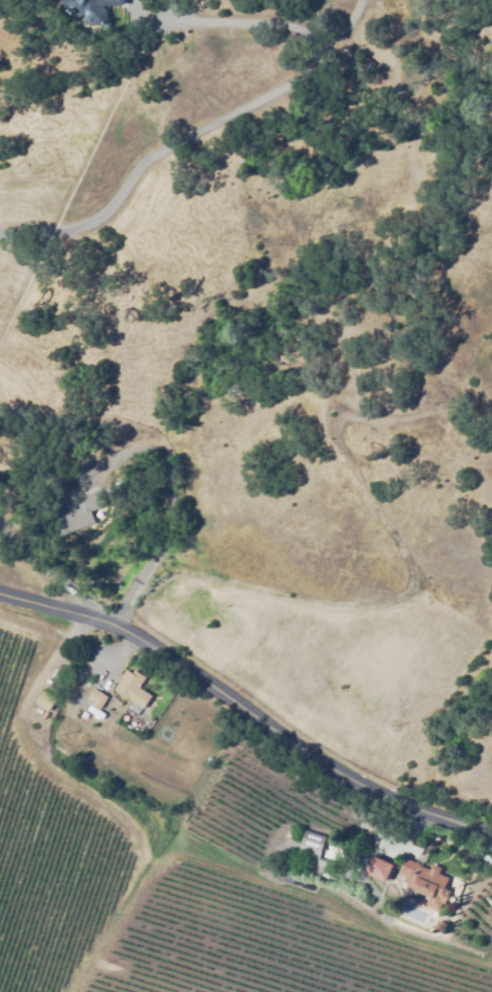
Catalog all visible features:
building: (89, 11)
road: (235, 22)
road: (188, 135)
road: (165, 508)
building: (77, 515)
road: (56, 572)
building: (133, 687)
building: (98, 697)
building: (46, 700)
road: (247, 710)
building: (310, 844)
building: (377, 867)
building: (425, 881)
building: (441, 925)

